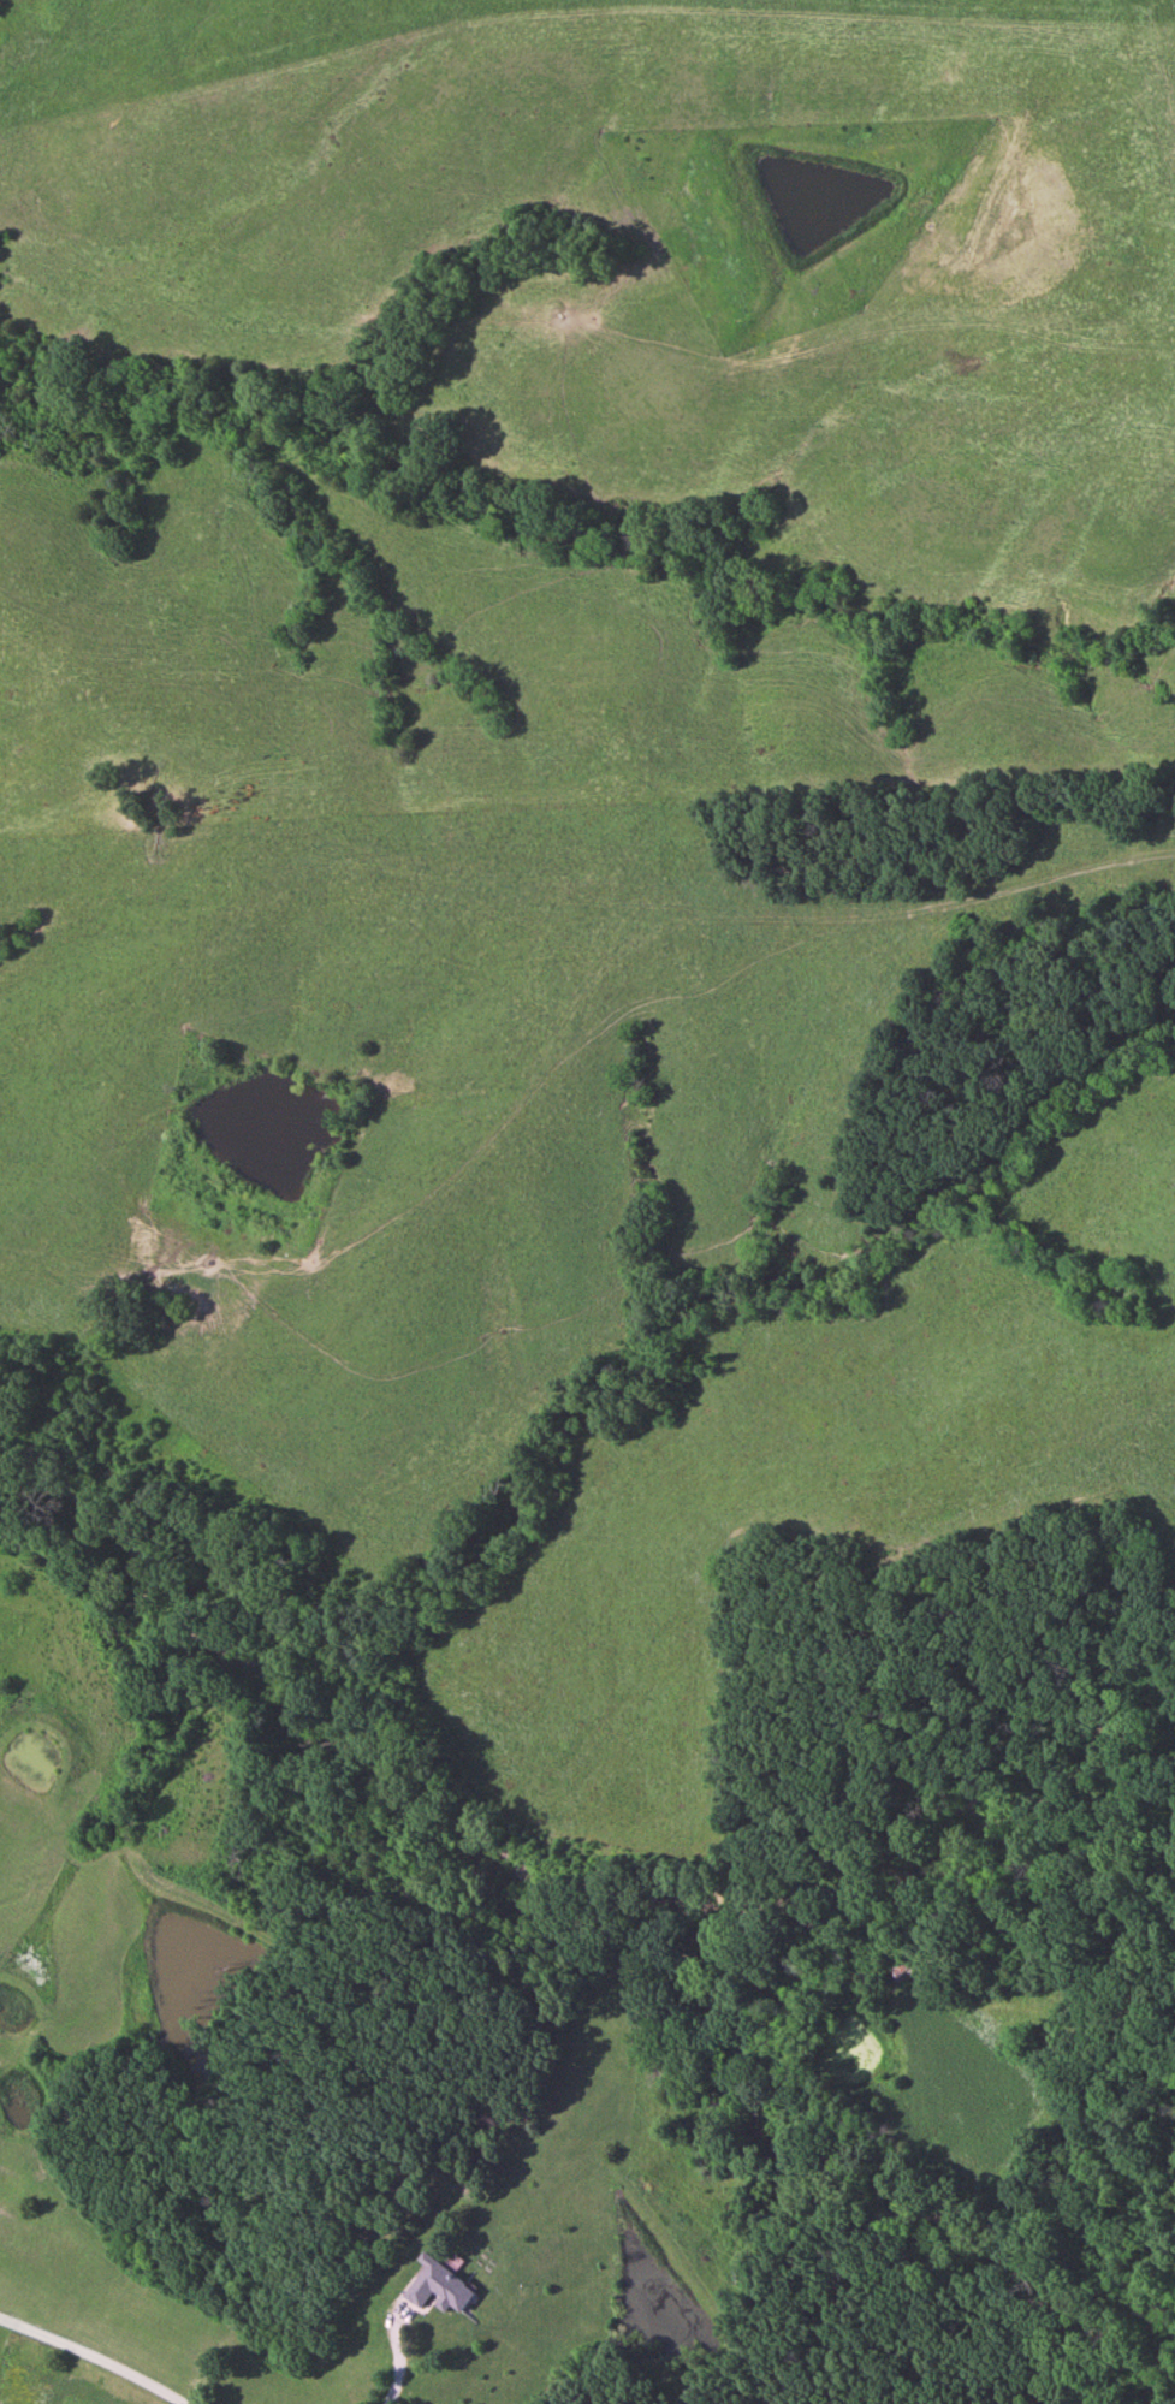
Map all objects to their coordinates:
building: (439, 2286)
road: (95, 2356)

